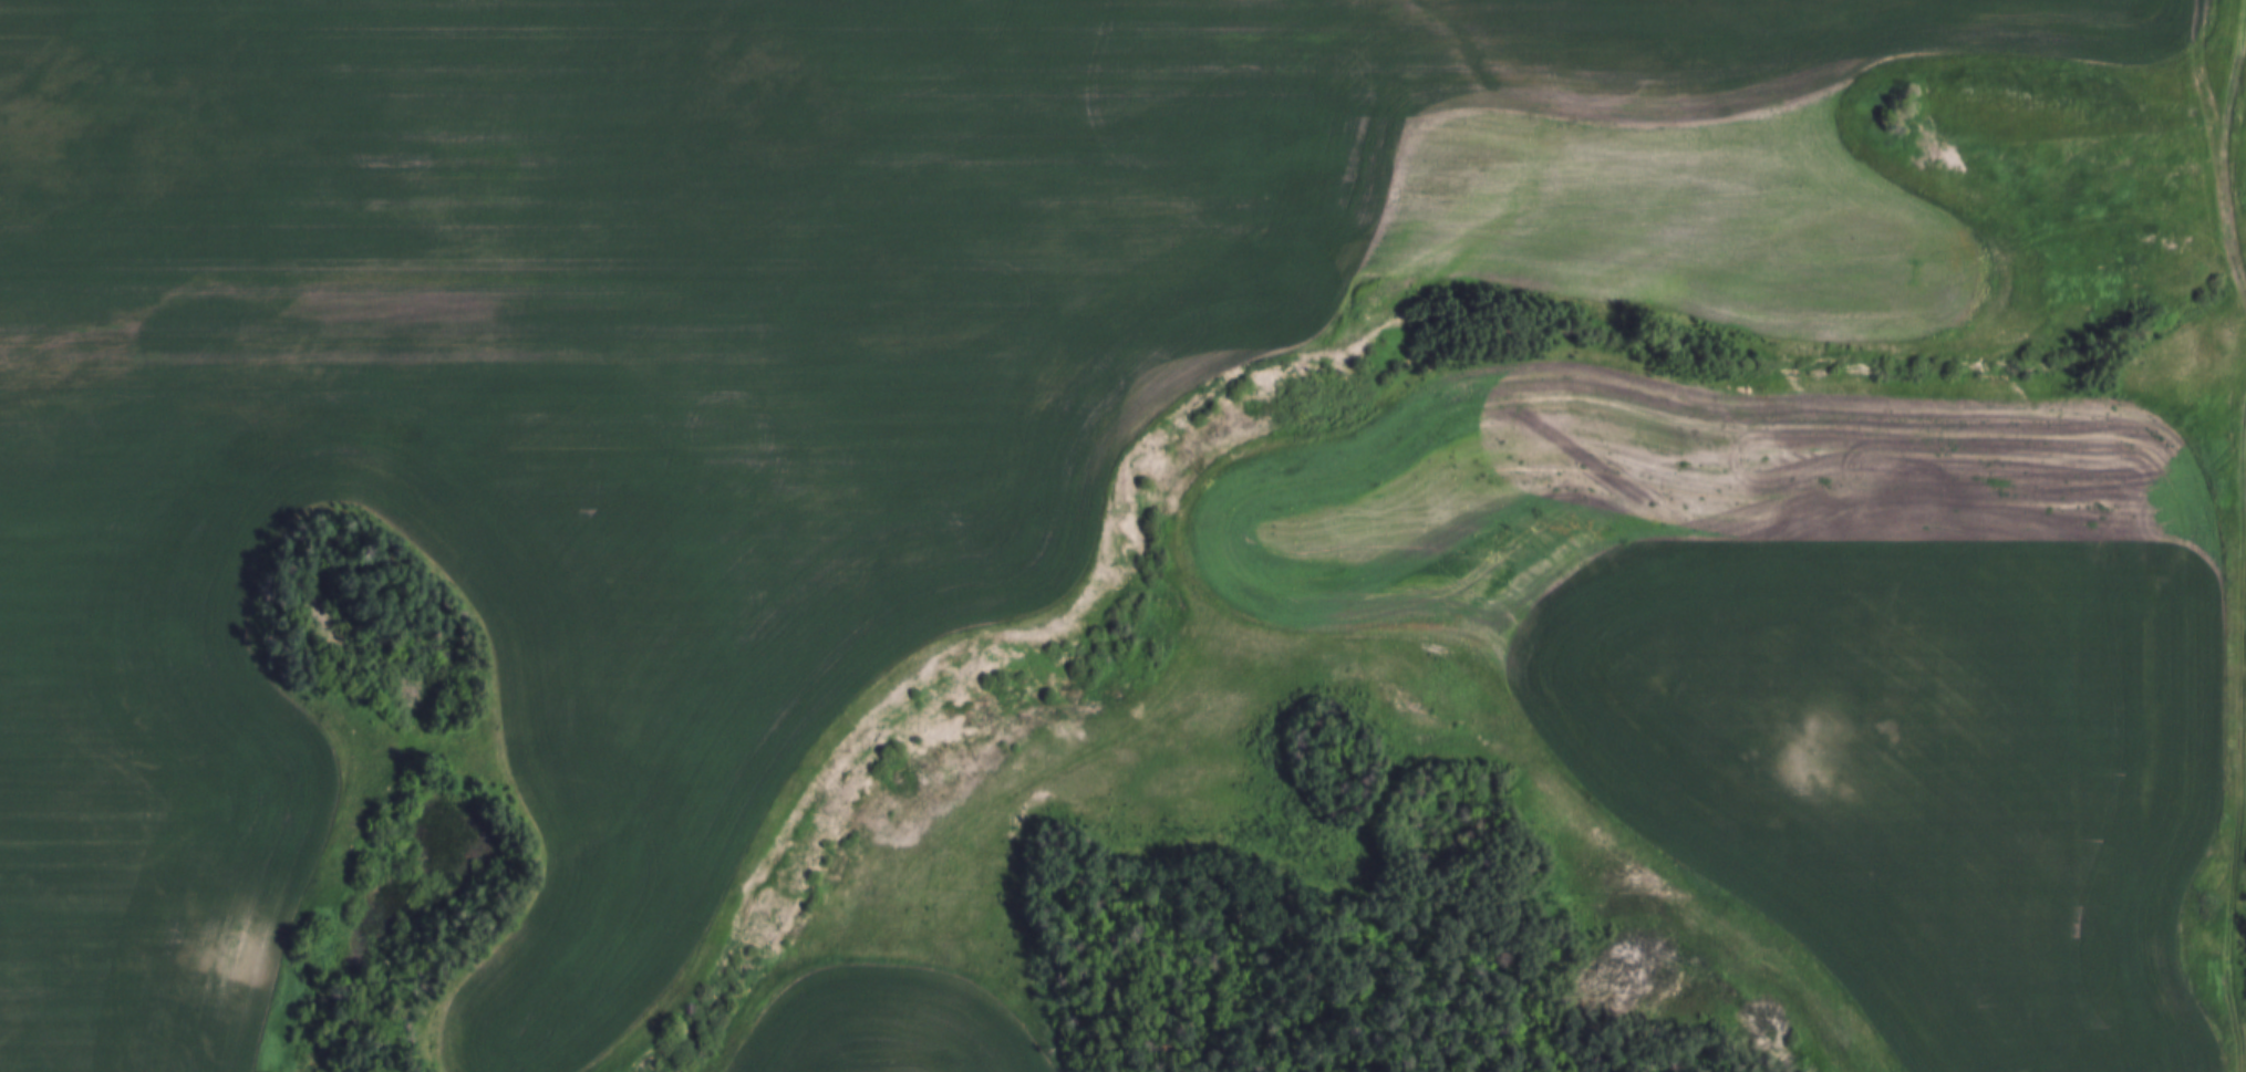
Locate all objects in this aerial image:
road: (2243, 62)
road: (2237, 835)

